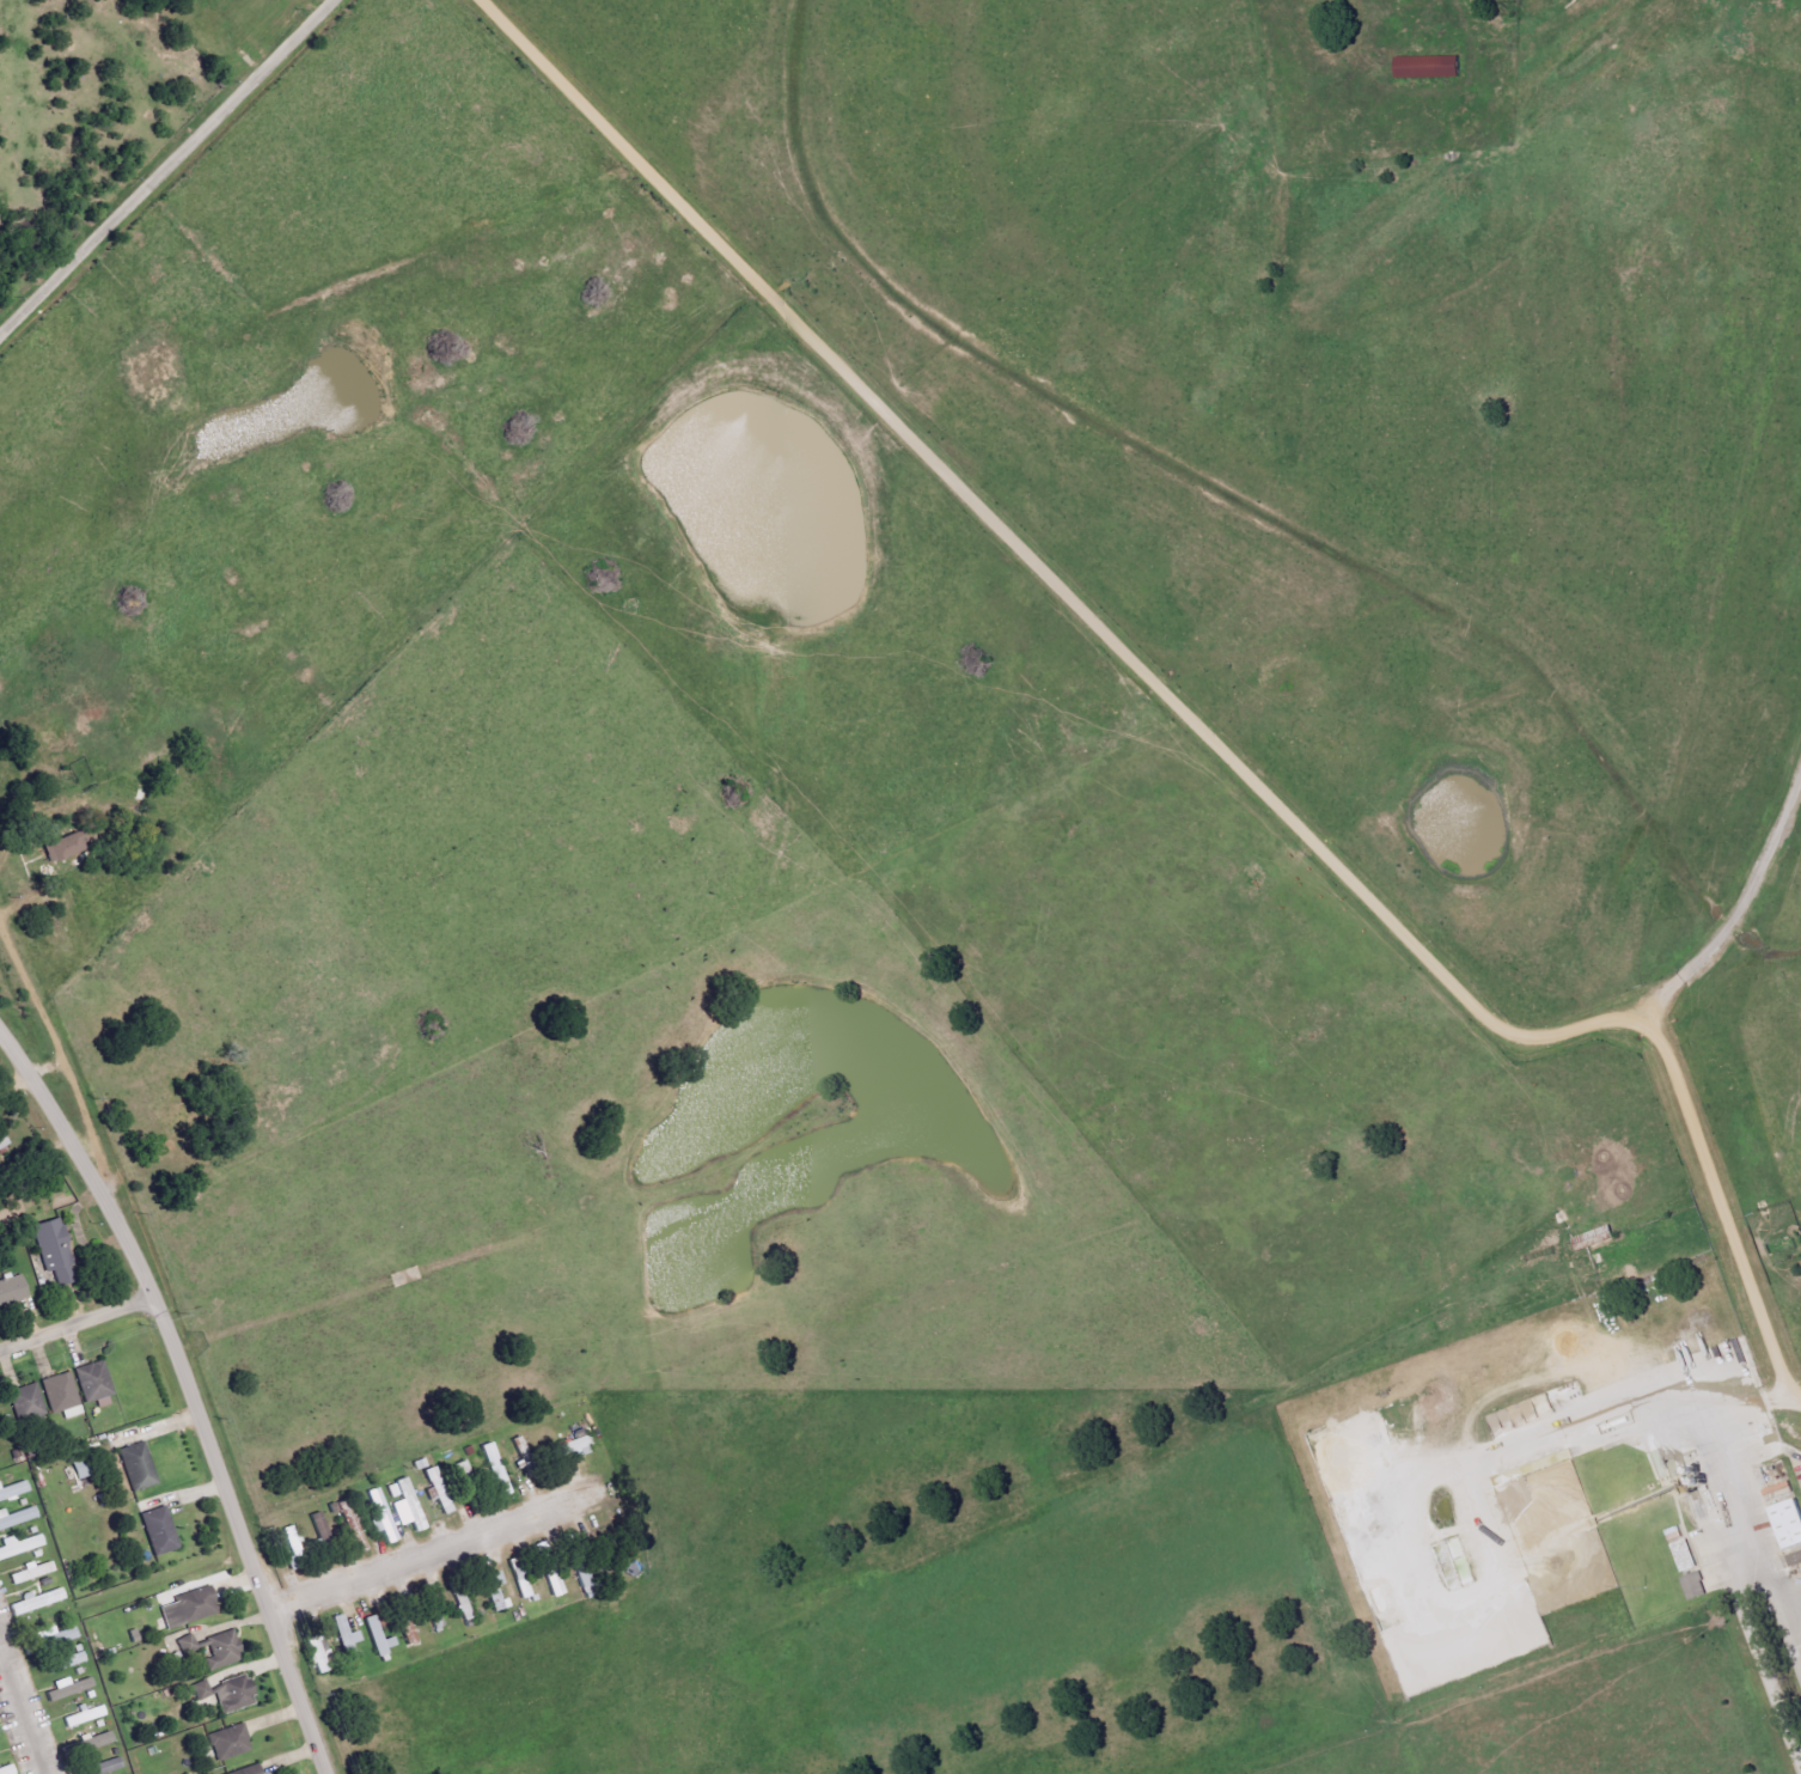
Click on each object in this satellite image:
road: (1313, 36)
building: (1428, 67)
road: (164, 166)
road: (1044, 568)
building: (65, 847)
road: (2, 860)
road: (1742, 903)
road: (4, 1034)
road: (59, 1056)
road: (45, 1062)
building: (4, 1141)
road: (1722, 1202)
building: (55, 1250)
building: (12, 1291)
road: (78, 1327)
building: (94, 1382)
road: (188, 1383)
building: (62, 1395)
building: (28, 1402)
building: (573, 1447)
building: (132, 1464)
building: (462, 1468)
building: (496, 1469)
building: (433, 1488)
building: (392, 1489)
building: (13, 1490)
building: (410, 1504)
building: (380, 1516)
building: (17, 1517)
building: (1788, 1523)
building: (319, 1524)
building: (153, 1529)
building: (292, 1540)
building: (20, 1546)
road: (416, 1549)
building: (1685, 1556)
building: (1795, 1560)
building: (35, 1572)
building: (519, 1580)
building: (552, 1581)
building: (486, 1584)
building: (1695, 1586)
building: (495, 1591)
building: (37, 1602)
building: (464, 1609)
building: (185, 1613)
building: (435, 1621)
building: (407, 1630)
building: (62, 1636)
building: (377, 1636)
building: (43, 1638)
building: (346, 1639)
road: (1753, 1644)
building: (214, 1648)
building: (316, 1653)
building: (66, 1662)
building: (68, 1688)
building: (201, 1690)
building: (233, 1694)
building: (85, 1717)
road: (17, 1720)
building: (222, 1739)
building: (97, 1741)
building: (91, 1766)
building: (238, 1769)
building: (7, 1770)

